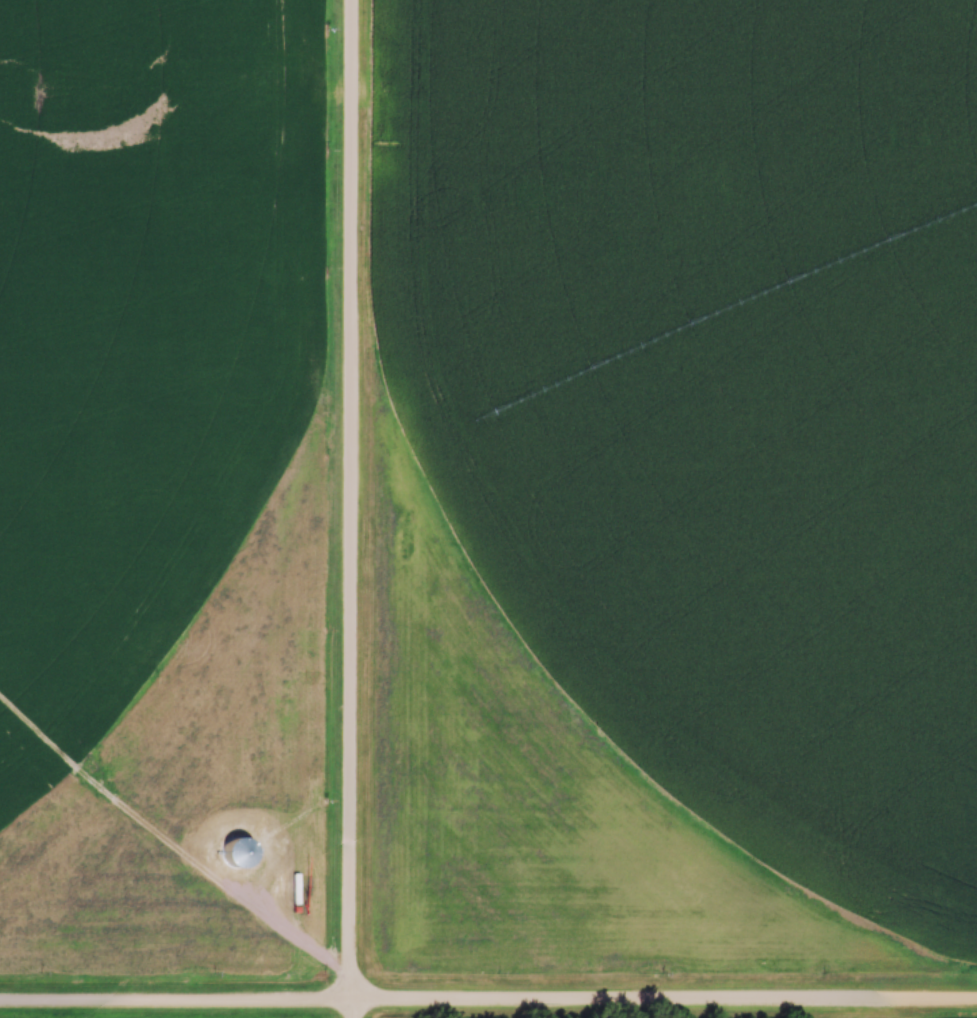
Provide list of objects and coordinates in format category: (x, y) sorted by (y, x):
road: (350, 509)
road: (488, 1005)

